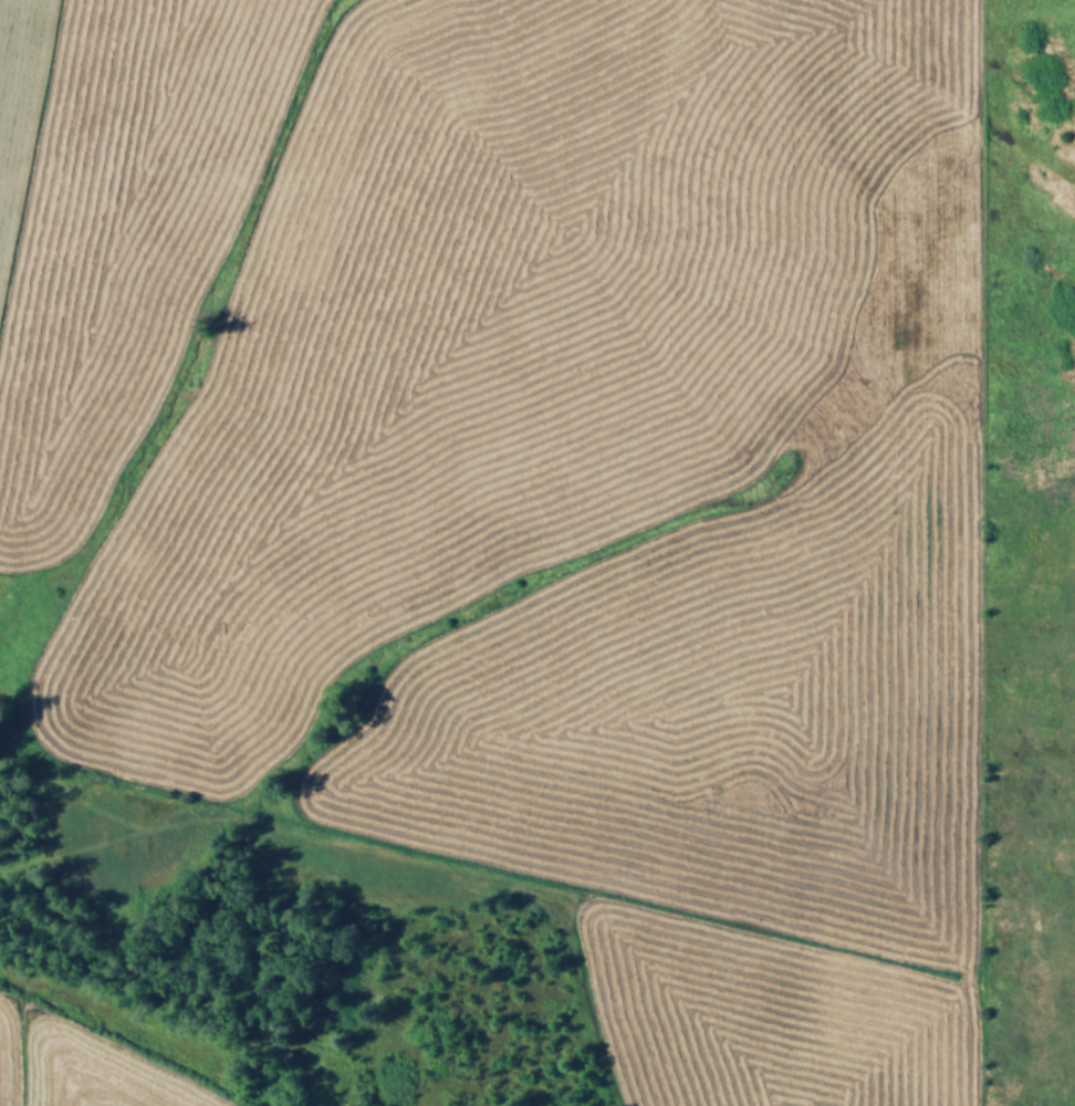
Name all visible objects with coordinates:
crop: (54, 1076)

